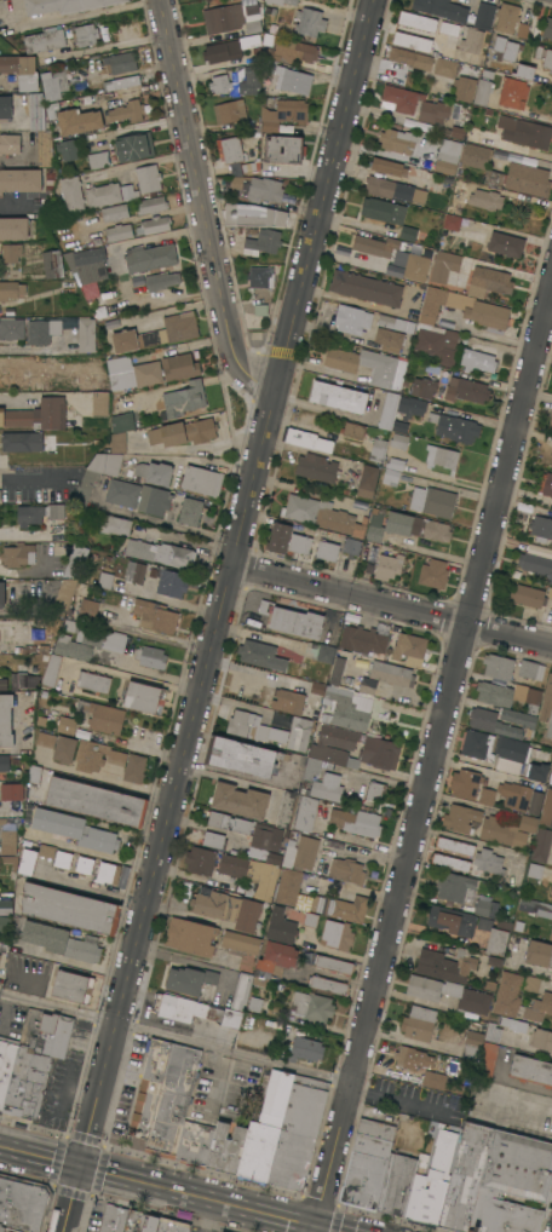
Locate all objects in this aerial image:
building: (281, 1)
building: (62, 5)
building: (441, 8)
road: (88, 12)
building: (483, 16)
building: (232, 17)
building: (506, 17)
building: (416, 21)
building: (310, 22)
building: (7, 28)
building: (448, 28)
building: (522, 30)
building: (88, 31)
building: (546, 33)
building: (45, 40)
building: (471, 40)
building: (412, 41)
building: (230, 48)
building: (505, 48)
building: (293, 52)
building: (409, 58)
building: (547, 59)
building: (120, 62)
building: (453, 68)
building: (22, 70)
building: (523, 71)
building: (487, 74)
building: (284, 77)
building: (240, 80)
building: (54, 82)
building: (121, 82)
building: (462, 88)
building: (482, 92)
building: (512, 93)
building: (398, 98)
building: (24, 106)
building: (230, 110)
building: (126, 111)
building: (432, 111)
building: (284, 113)
building: (77, 120)
building: (458, 125)
road: (11, 126)
building: (523, 132)
building: (397, 140)
building: (10, 143)
building: (134, 146)
building: (45, 148)
building: (67, 149)
building: (231, 149)
building: (286, 149)
building: (473, 155)
building: (447, 156)
building: (98, 159)
road: (148, 161)
building: (390, 166)
building: (149, 178)
building: (521, 179)
building: (19, 180)
building: (386, 188)
building: (254, 189)
building: (71, 192)
building: (130, 192)
building: (104, 194)
building: (418, 195)
building: (484, 198)
road: (202, 202)
building: (153, 205)
building: (381, 211)
building: (115, 212)
building: (253, 214)
building: (452, 221)
building: (154, 225)
building: (13, 228)
building: (119, 231)
building: (407, 234)
building: (263, 242)
building: (505, 244)
building: (374, 246)
building: (11, 252)
building: (150, 257)
building: (53, 264)
building: (91, 264)
building: (443, 265)
building: (415, 266)
building: (260, 278)
building: (161, 280)
building: (490, 280)
building: (364, 288)
building: (11, 289)
building: (351, 319)
building: (396, 323)
building: (426, 327)
building: (11, 328)
building: (42, 330)
building: (157, 333)
road: (490, 333)
building: (86, 335)
building: (387, 339)
road: (28, 346)
building: (476, 361)
building: (368, 365)
building: (179, 367)
building: (15, 374)
building: (132, 374)
building: (87, 381)
building: (422, 387)
building: (465, 390)
building: (337, 397)
road: (15, 398)
building: (183, 399)
building: (100, 403)
building: (375, 404)
building: (409, 407)
building: (387, 410)
building: (38, 414)
building: (550, 421)
building: (452, 425)
building: (351, 430)
building: (184, 432)
building: (307, 439)
building: (22, 441)
building: (398, 441)
building: (378, 447)
building: (441, 456)
building: (105, 457)
building: (393, 464)
building: (316, 467)
building: (155, 472)
building: (390, 476)
building: (202, 480)
building: (367, 480)
building: (545, 490)
building: (122, 493)
building: (0, 494)
building: (154, 500)
building: (432, 501)
building: (190, 512)
building: (39, 513)
building: (321, 514)
building: (113, 524)
building: (415, 526)
building: (540, 526)
building: (374, 528)
building: (278, 537)
building: (298, 543)
building: (551, 543)
building: (350, 547)
building: (327, 551)
building: (162, 553)
building: (18, 554)
building: (75, 560)
building: (384, 564)
building: (535, 564)
building: (134, 571)
building: (432, 574)
building: (103, 576)
building: (171, 583)
road: (230, 583)
building: (548, 592)
building: (1, 594)
building: (27, 594)
building: (527, 595)
building: (64, 597)
road: (393, 604)
building: (88, 609)
road: (6, 610)
building: (150, 612)
building: (42, 622)
building: (295, 622)
building: (4, 634)
building: (97, 637)
building: (362, 640)
building: (408, 646)
building: (71, 647)
building: (324, 654)
building: (260, 655)
building: (151, 657)
building: (498, 666)
building: (530, 669)
building: (51, 670)
building: (335, 670)
building: (387, 672)
building: (23, 680)
building: (93, 681)
building: (4, 683)
building: (370, 686)
building: (507, 695)
building: (145, 697)
building: (286, 701)
building: (347, 707)
building: (546, 712)
building: (103, 716)
building: (517, 719)
building: (6, 720)
building: (490, 722)
building: (67, 725)
building: (246, 726)
building: (298, 733)
building: (45, 739)
building: (473, 744)
building: (64, 749)
building: (376, 754)
building: (510, 754)
building: (96, 755)
building: (240, 755)
road: (433, 755)
building: (5, 762)
building: (134, 768)
building: (536, 770)
building: (33, 773)
road: (381, 778)
building: (464, 783)
building: (326, 787)
building: (12, 791)
building: (374, 791)
building: (513, 795)
building: (485, 796)
building: (238, 800)
building: (96, 801)
building: (546, 805)
building: (286, 808)
building: (305, 813)
building: (460, 818)
building: (217, 819)
building: (355, 822)
building: (241, 825)
building: (75, 829)
building: (507, 830)
building: (212, 840)
building: (264, 840)
building: (8, 842)
building: (540, 845)
building: (453, 846)
building: (44, 850)
building: (304, 853)
building: (63, 859)
building: (199, 860)
building: (28, 862)
building: (449, 862)
building: (488, 862)
building: (84, 865)
building: (345, 870)
building: (534, 870)
building: (107, 873)
building: (251, 874)
building: (287, 886)
building: (455, 887)
road: (98, 890)
building: (6, 903)
building: (524, 904)
building: (482, 906)
building: (70, 908)
building: (339, 908)
building: (226, 909)
building: (544, 910)
building: (310, 920)
building: (450, 920)
building: (5, 923)
building: (280, 926)
building: (335, 934)
building: (491, 934)
building: (551, 934)
building: (189, 935)
building: (62, 940)
building: (240, 943)
building: (537, 952)
building: (0, 956)
building: (272, 963)
building: (332, 963)
building: (444, 965)
building: (551, 965)
building: (551, 978)
building: (189, 979)
building: (327, 984)
building: (530, 984)
building: (73, 985)
building: (240, 990)
building: (448, 994)
building: (507, 994)
building: (255, 1004)
building: (539, 1007)
road: (59, 1008)
building: (312, 1008)
building: (192, 1009)
building: (418, 1023)
building: (513, 1024)
building: (491, 1032)
building: (473, 1038)
building: (541, 1040)
building: (305, 1049)
building: (470, 1053)
road: (234, 1054)
building: (407, 1057)
building: (485, 1060)
building: (6, 1065)
building: (36, 1066)
building: (530, 1070)
building: (441, 1075)
road: (516, 1081)
building: (148, 1087)
building: (172, 1100)
building: (374, 1128)
building: (264, 1130)
building: (297, 1133)
building: (194, 1144)
building: (225, 1147)
road: (40, 1156)
building: (363, 1171)
building: (465, 1176)
building: (431, 1181)
building: (512, 1184)
building: (397, 1185)
road: (73, 1199)
road: (205, 1199)
building: (23, 1202)
building: (113, 1219)
building: (140, 1222)
building: (172, 1225)
building: (1, 1227)

